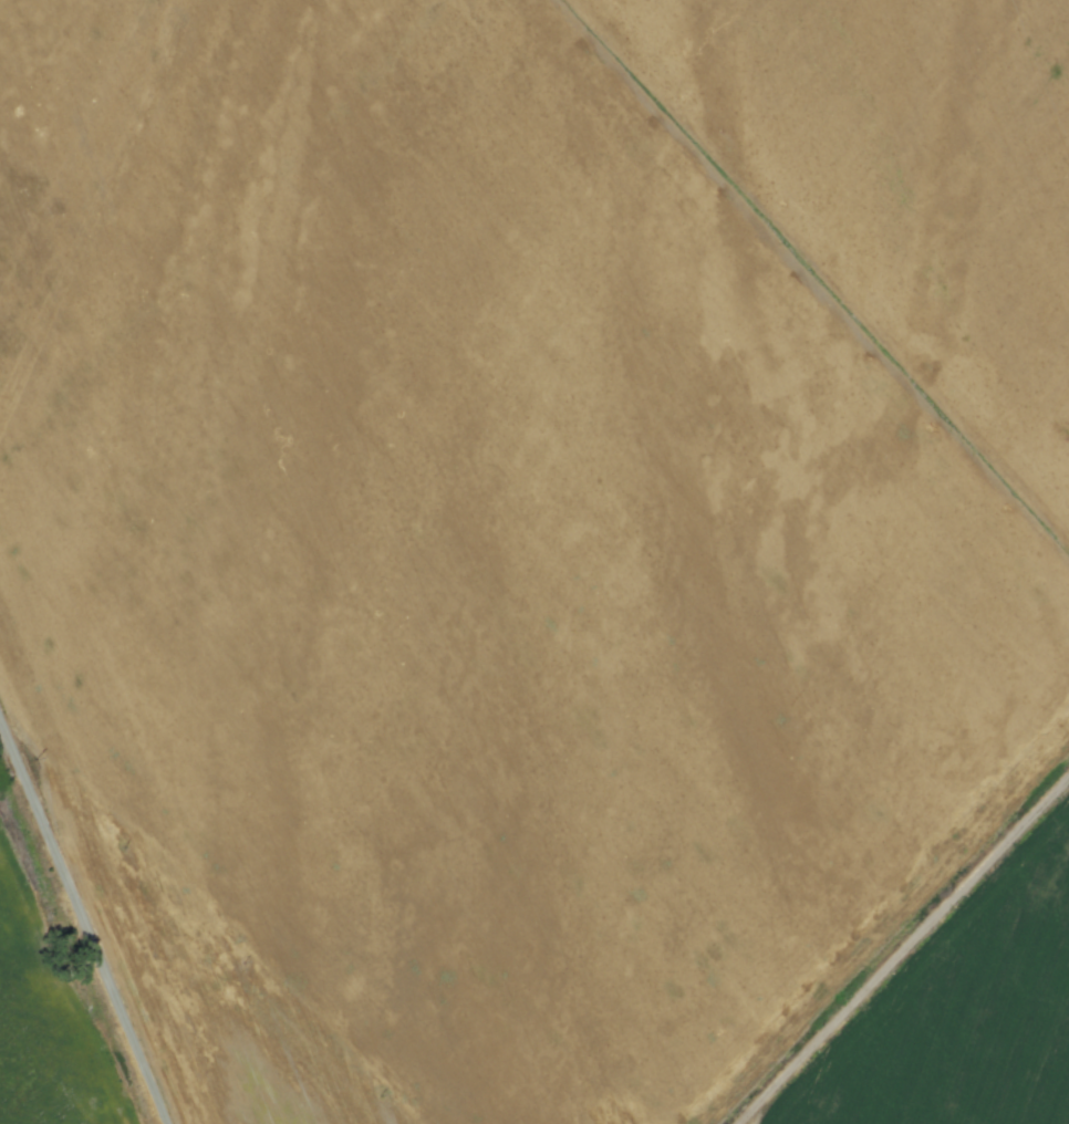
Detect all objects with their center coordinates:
crop: (537, 483)
road: (82, 926)

